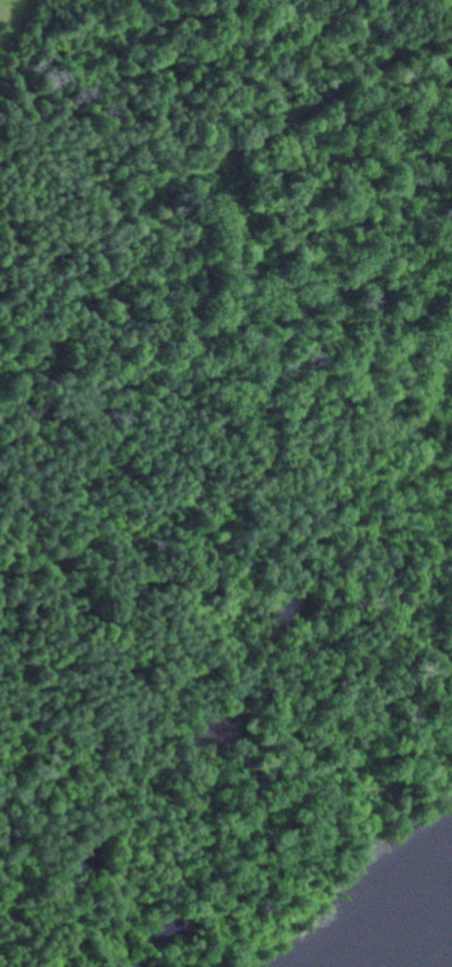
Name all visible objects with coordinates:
river: (404, 925)

